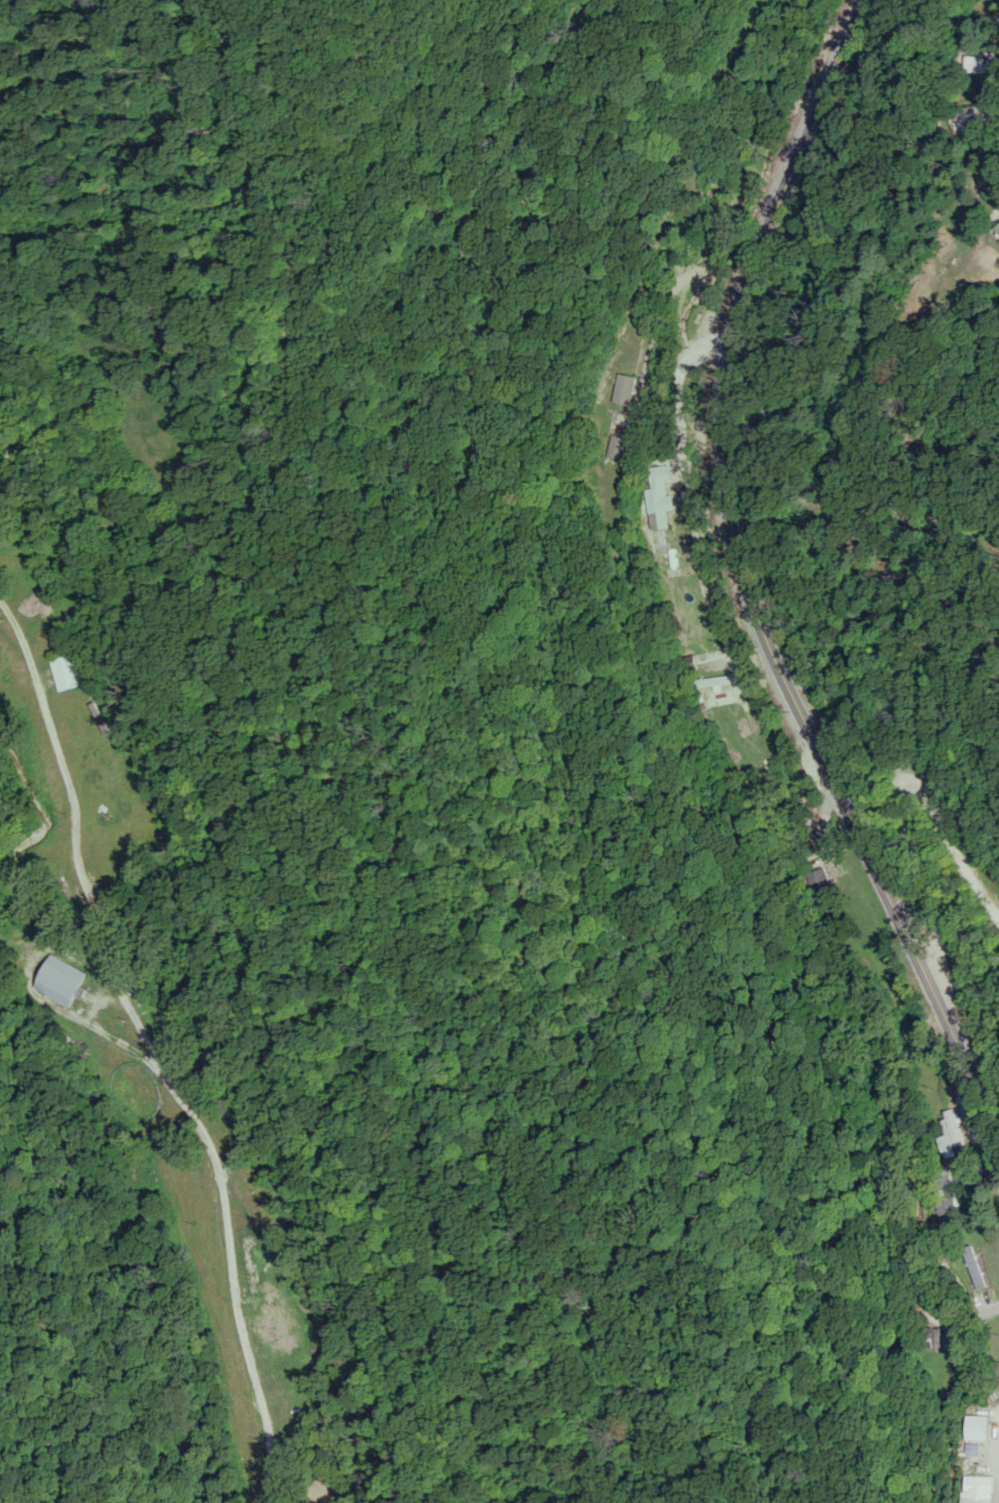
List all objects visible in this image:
building: (975, 63)
building: (967, 117)
road: (998, 163)
building: (713, 226)
building: (996, 227)
building: (623, 388)
road: (728, 406)
building: (615, 446)
building: (659, 473)
road: (689, 479)
building: (656, 507)
building: (684, 622)
building: (64, 669)
building: (710, 681)
road: (903, 796)
building: (820, 883)
building: (57, 979)
road: (935, 981)
road: (183, 1087)
building: (950, 1128)
building: (944, 1194)
building: (972, 1266)
building: (926, 1336)
building: (974, 1426)
building: (977, 1485)

